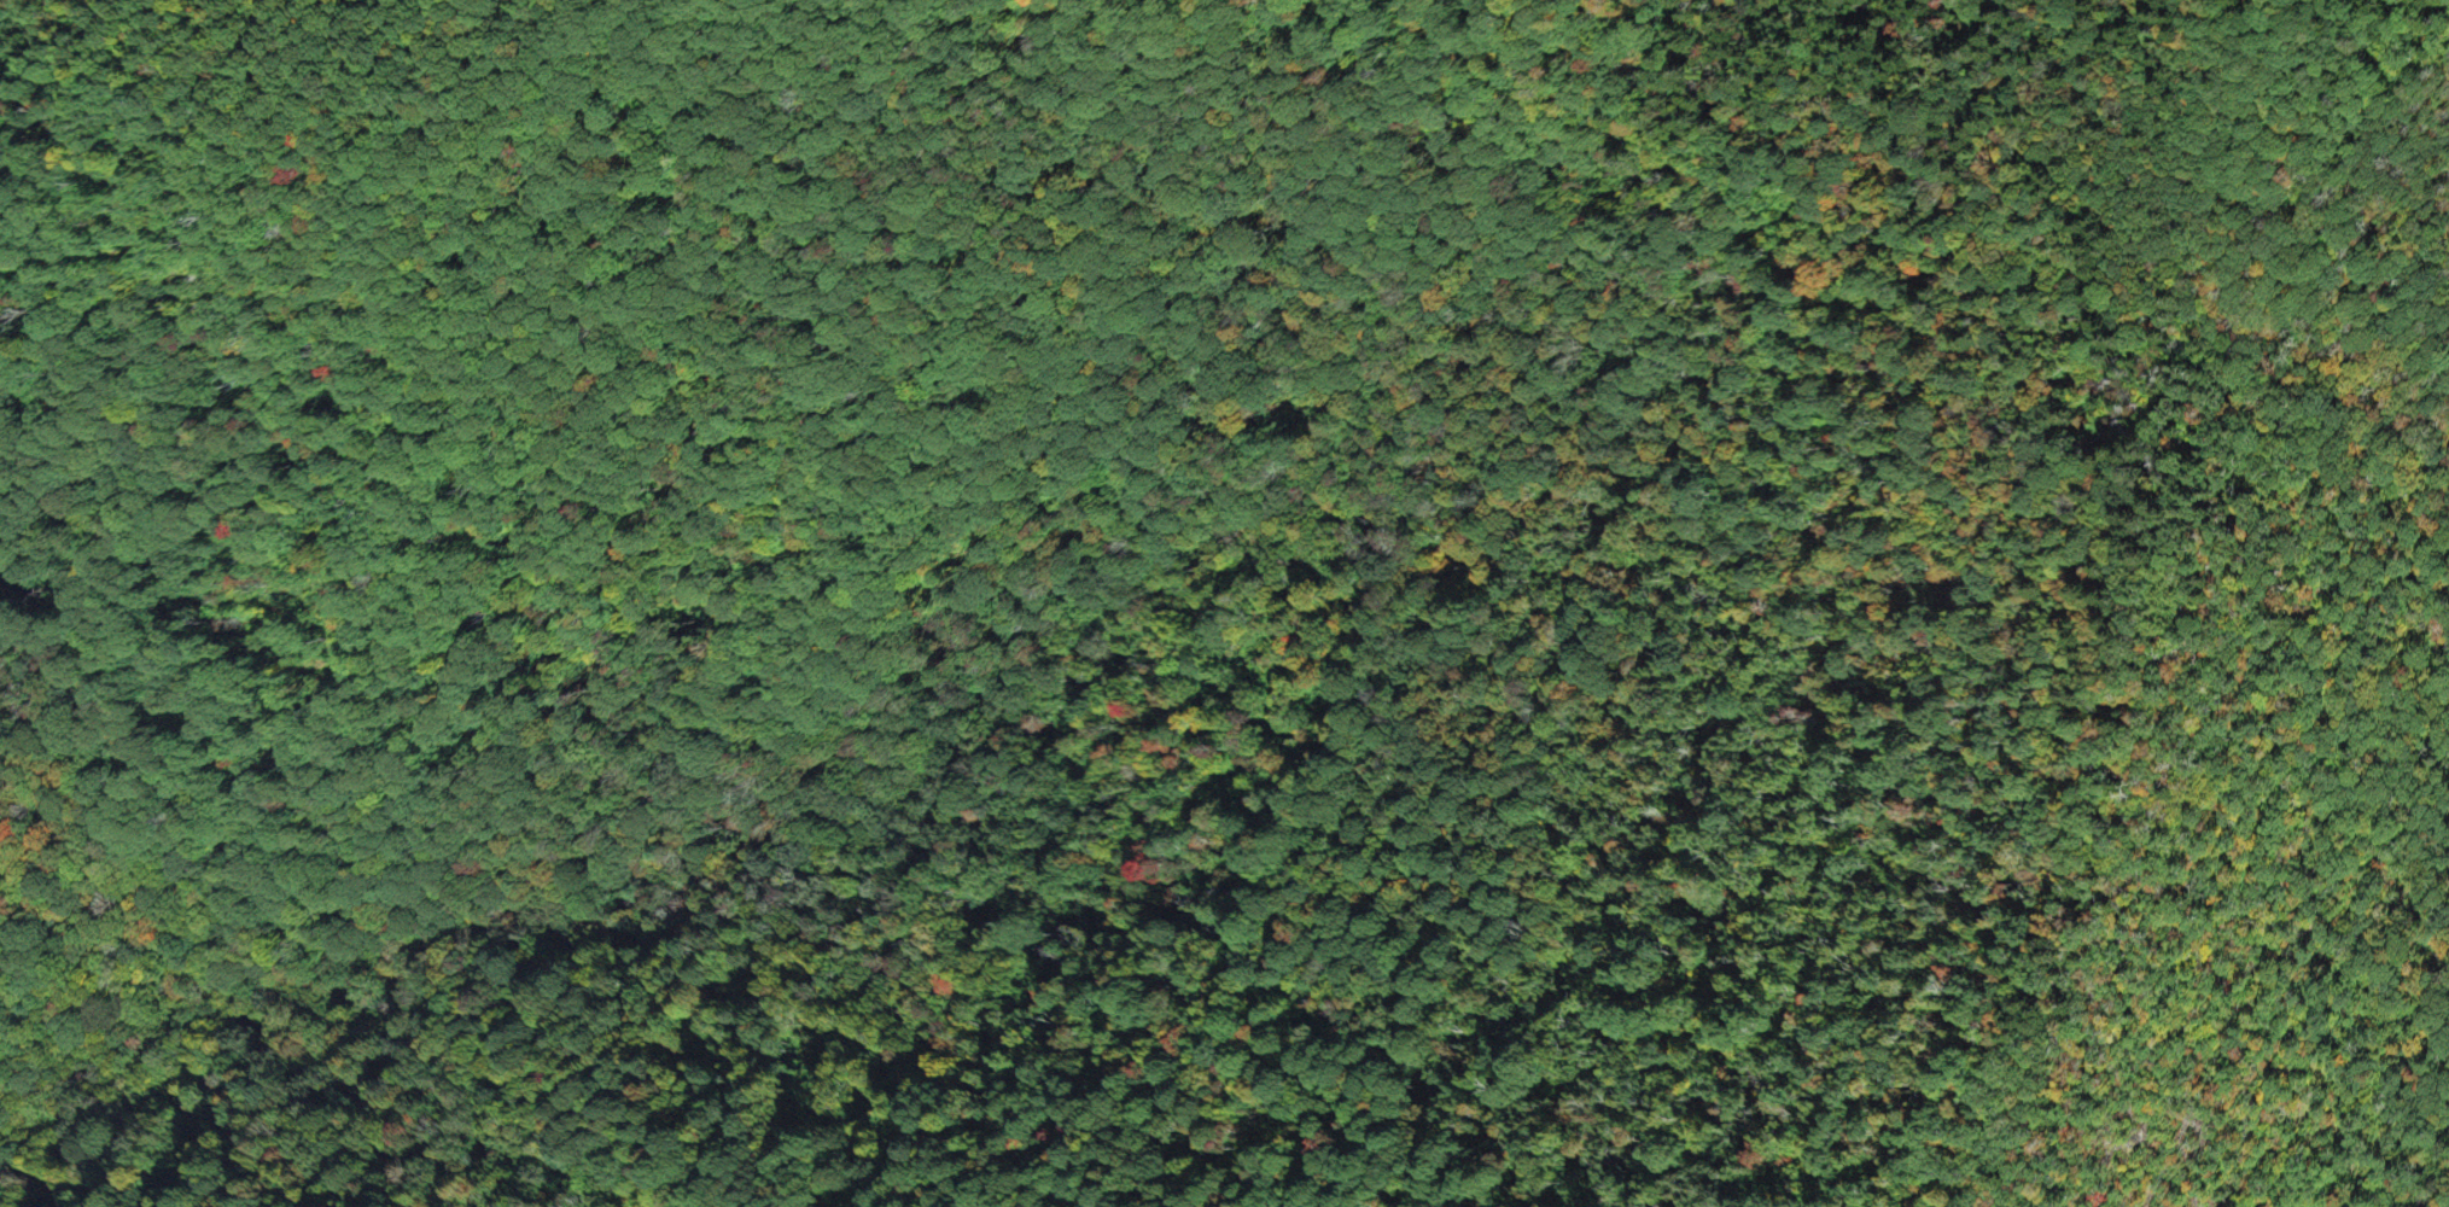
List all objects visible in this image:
road: (2215, 183)

